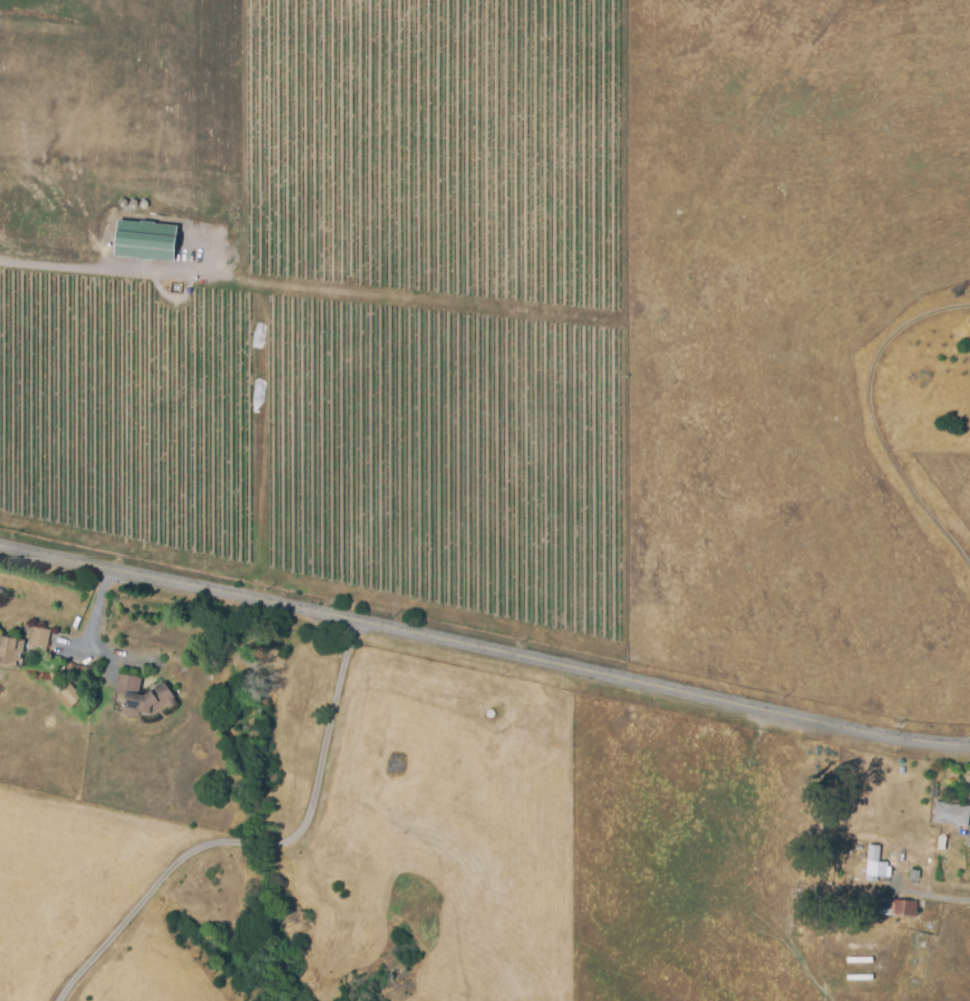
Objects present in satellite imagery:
building: (144, 244)
road: (57, 266)
building: (178, 291)
road: (872, 420)
building: (40, 637)
building: (11, 646)
road: (484, 653)
building: (70, 694)
building: (141, 696)
building: (952, 814)
road: (257, 843)
building: (942, 845)
building: (943, 868)
building: (877, 870)
building: (915, 877)
building: (892, 908)

